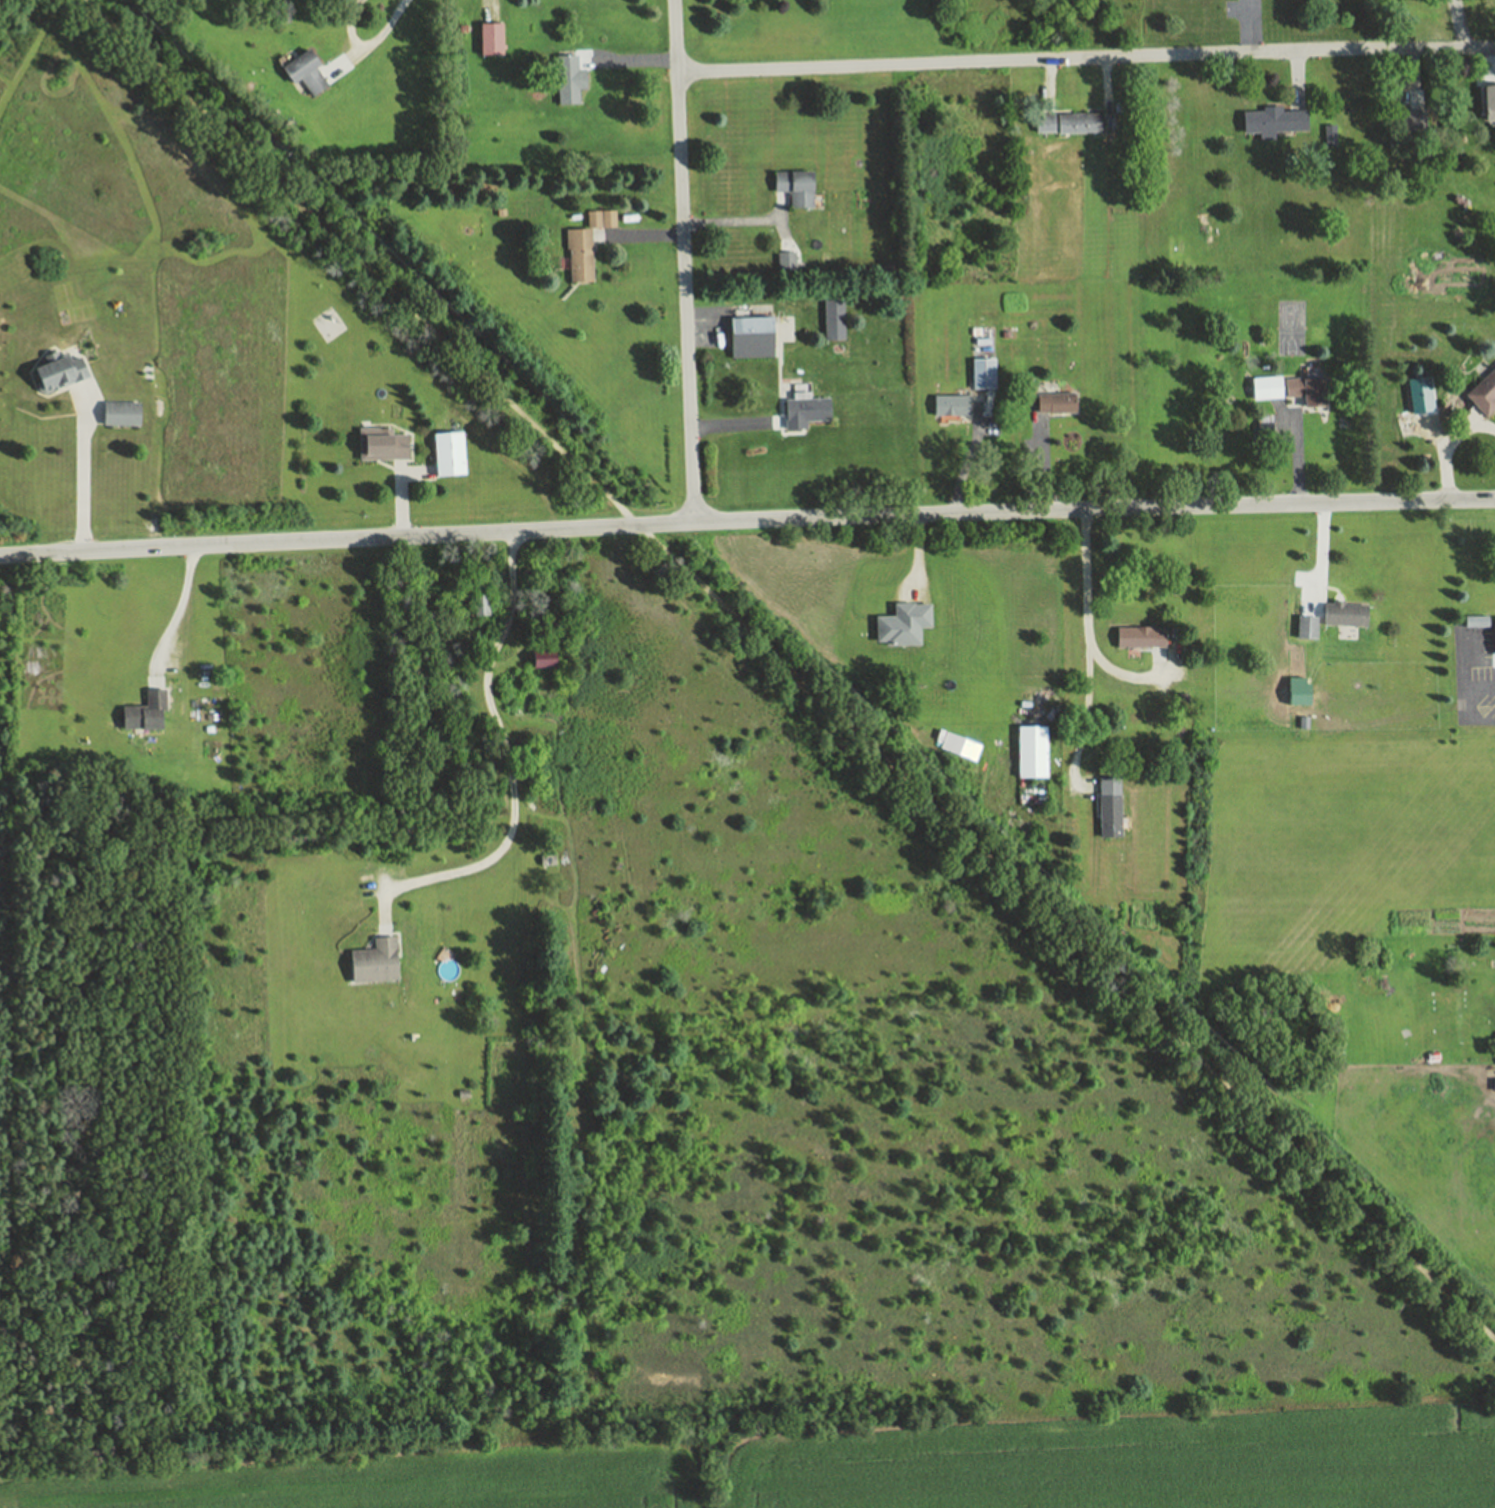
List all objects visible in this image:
road: (490, 9)
road: (1459, 23)
road: (1247, 27)
building: (489, 37)
road: (367, 43)
road: (1086, 57)
road: (631, 62)
road: (1492, 64)
road: (1415, 66)
building: (305, 72)
building: (567, 78)
road: (1296, 78)
road: (1046, 83)
road: (1108, 85)
building: (1416, 98)
building: (1489, 103)
building: (1273, 120)
building: (1068, 122)
building: (1328, 134)
building: (794, 187)
road: (778, 212)
building: (600, 218)
road: (740, 222)
road: (640, 235)
building: (578, 253)
road: (684, 261)
building: (786, 261)
building: (833, 319)
building: (751, 337)
building: (56, 371)
building: (983, 372)
building: (1306, 387)
building: (1265, 388)
building: (1482, 394)
building: (1057, 403)
building: (950, 405)
building: (803, 410)
building: (120, 414)
road: (734, 424)
building: (1263, 428)
road: (1444, 441)
building: (381, 444)
building: (447, 453)
road: (971, 454)
road: (1296, 459)
road: (1043, 465)
road: (83, 467)
road: (413, 474)
road: (400, 500)
road: (747, 520)
road: (1321, 555)
building: (959, 603)
building: (478, 605)
road: (929, 613)
road: (178, 614)
building: (1344, 615)
building: (1305, 627)
building: (1494, 636)
building: (1140, 637)
road: (1088, 653)
building: (542, 657)
road: (1463, 659)
road: (1479, 661)
road: (792, 669)
parking lot: (1475, 673)
road: (1122, 676)
road: (1479, 686)
building: (517, 699)
building: (1184, 699)
road: (1464, 702)
building: (144, 712)
road: (1480, 720)
building: (1303, 730)
building: (960, 746)
building: (1031, 752)
road: (511, 767)
building: (1109, 808)
building: (546, 860)
building: (373, 961)
building: (1494, 1085)

